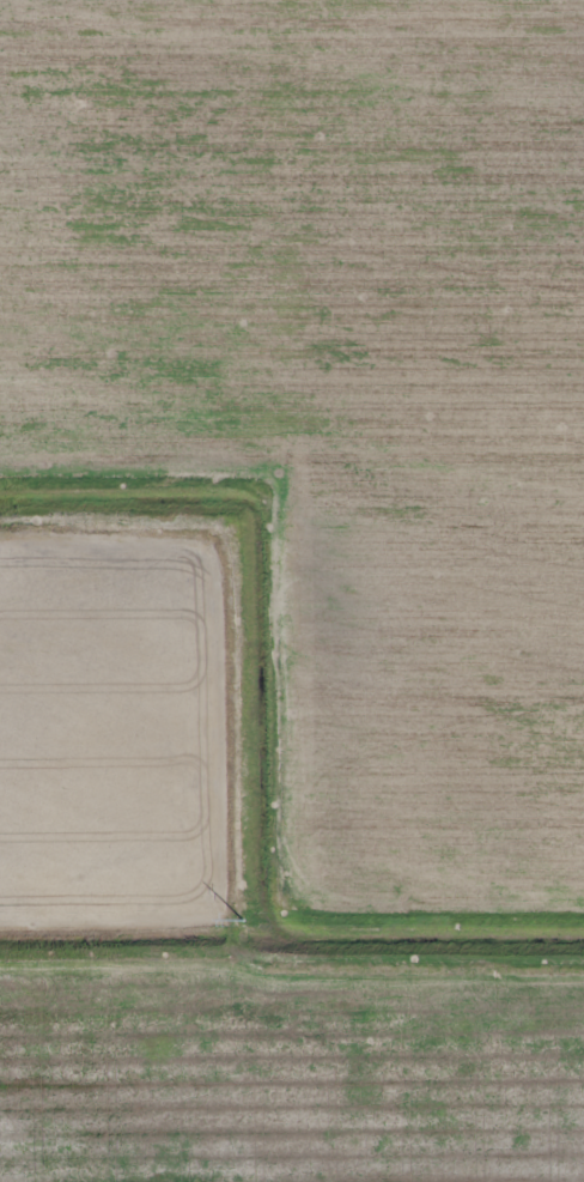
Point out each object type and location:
power tower: (250, 921)

